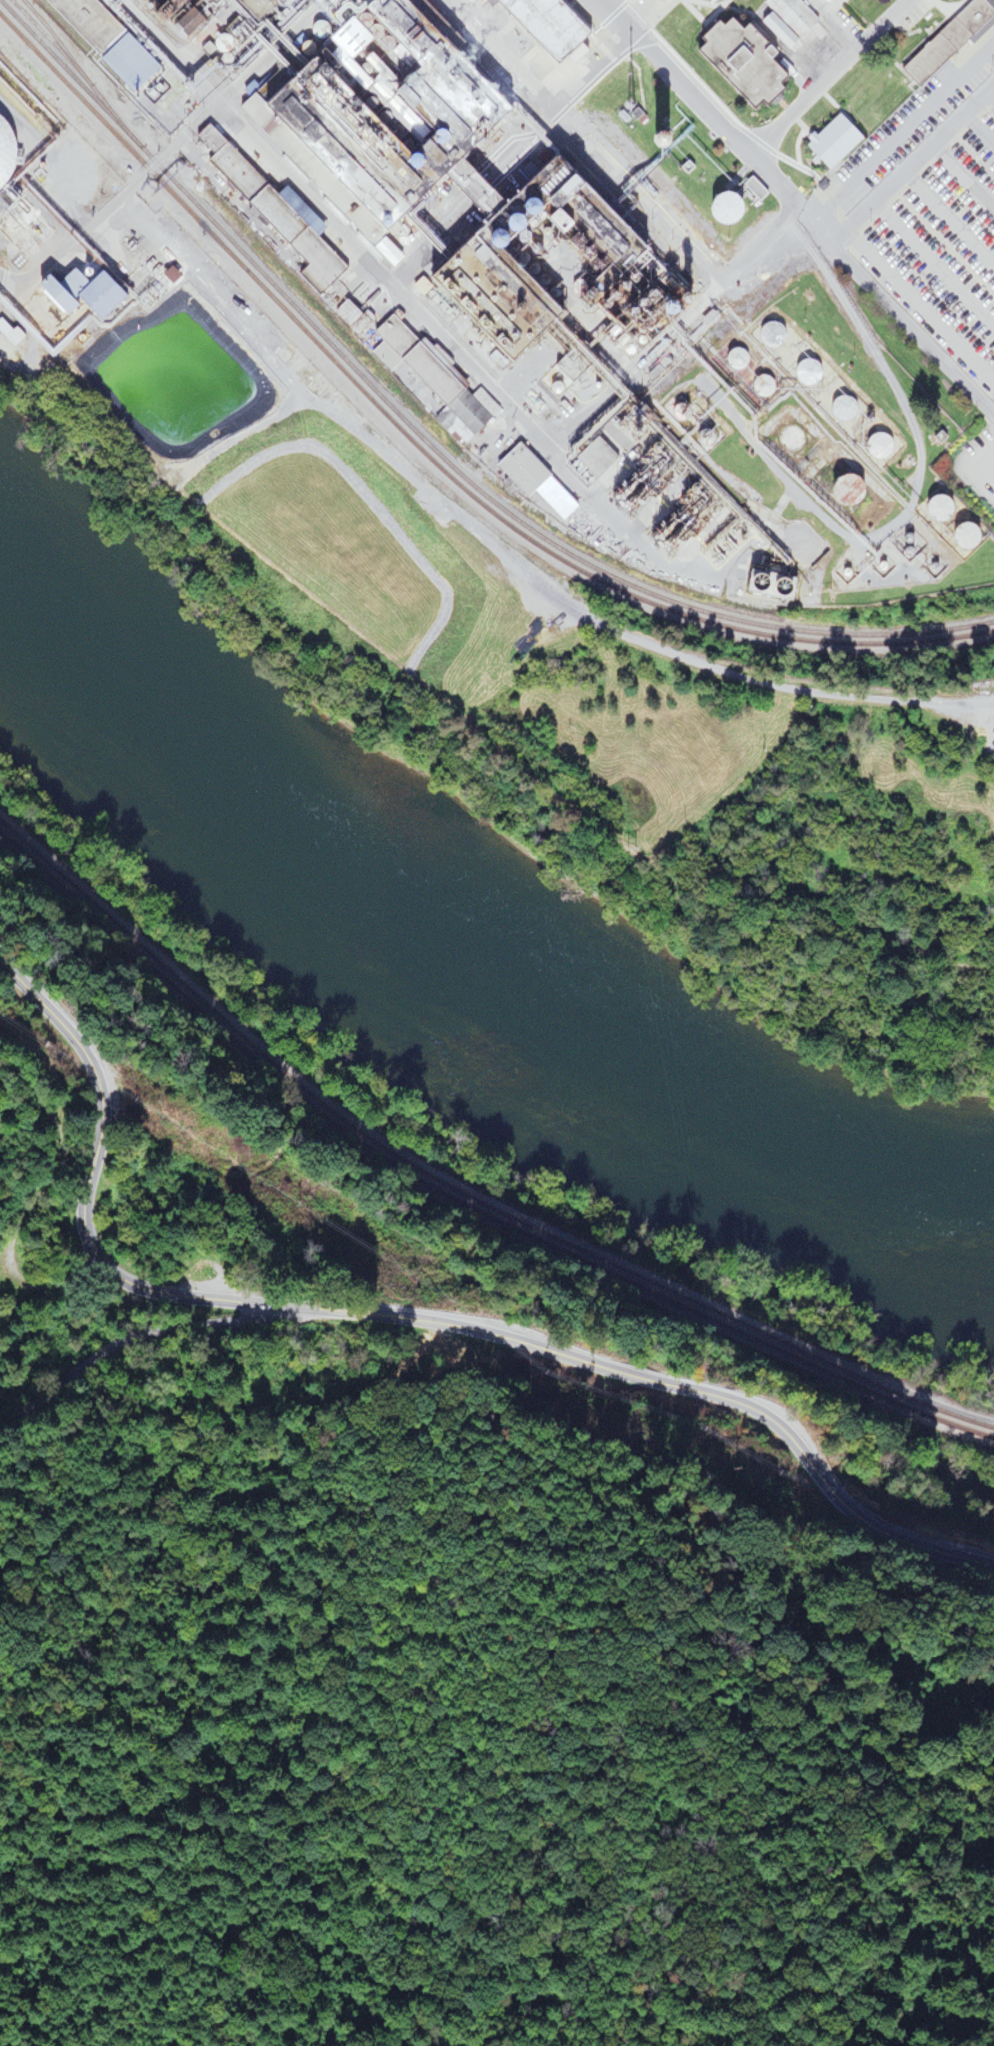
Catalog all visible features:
building: (828, 0)
building: (789, 16)
building: (538, 24)
railway: (163, 36)
building: (947, 40)
building: (103, 41)
building: (737, 63)
building: (369, 110)
building: (830, 141)
building: (273, 215)
road: (19, 265)
building: (89, 295)
road: (897, 320)
building: (765, 332)
building: (731, 360)
road: (53, 371)
building: (427, 379)
building: (755, 384)
road: (564, 393)
building: (782, 438)
building: (873, 446)
railway: (434, 447)
building: (529, 479)
building: (839, 491)
building: (929, 509)
building: (956, 537)
building: (899, 545)
road: (751, 682)
building: (991, 736)
river: (460, 970)
railway: (456, 1190)
road: (30, 1207)
road: (18, 1301)
road: (404, 1318)
road: (132, 1338)

